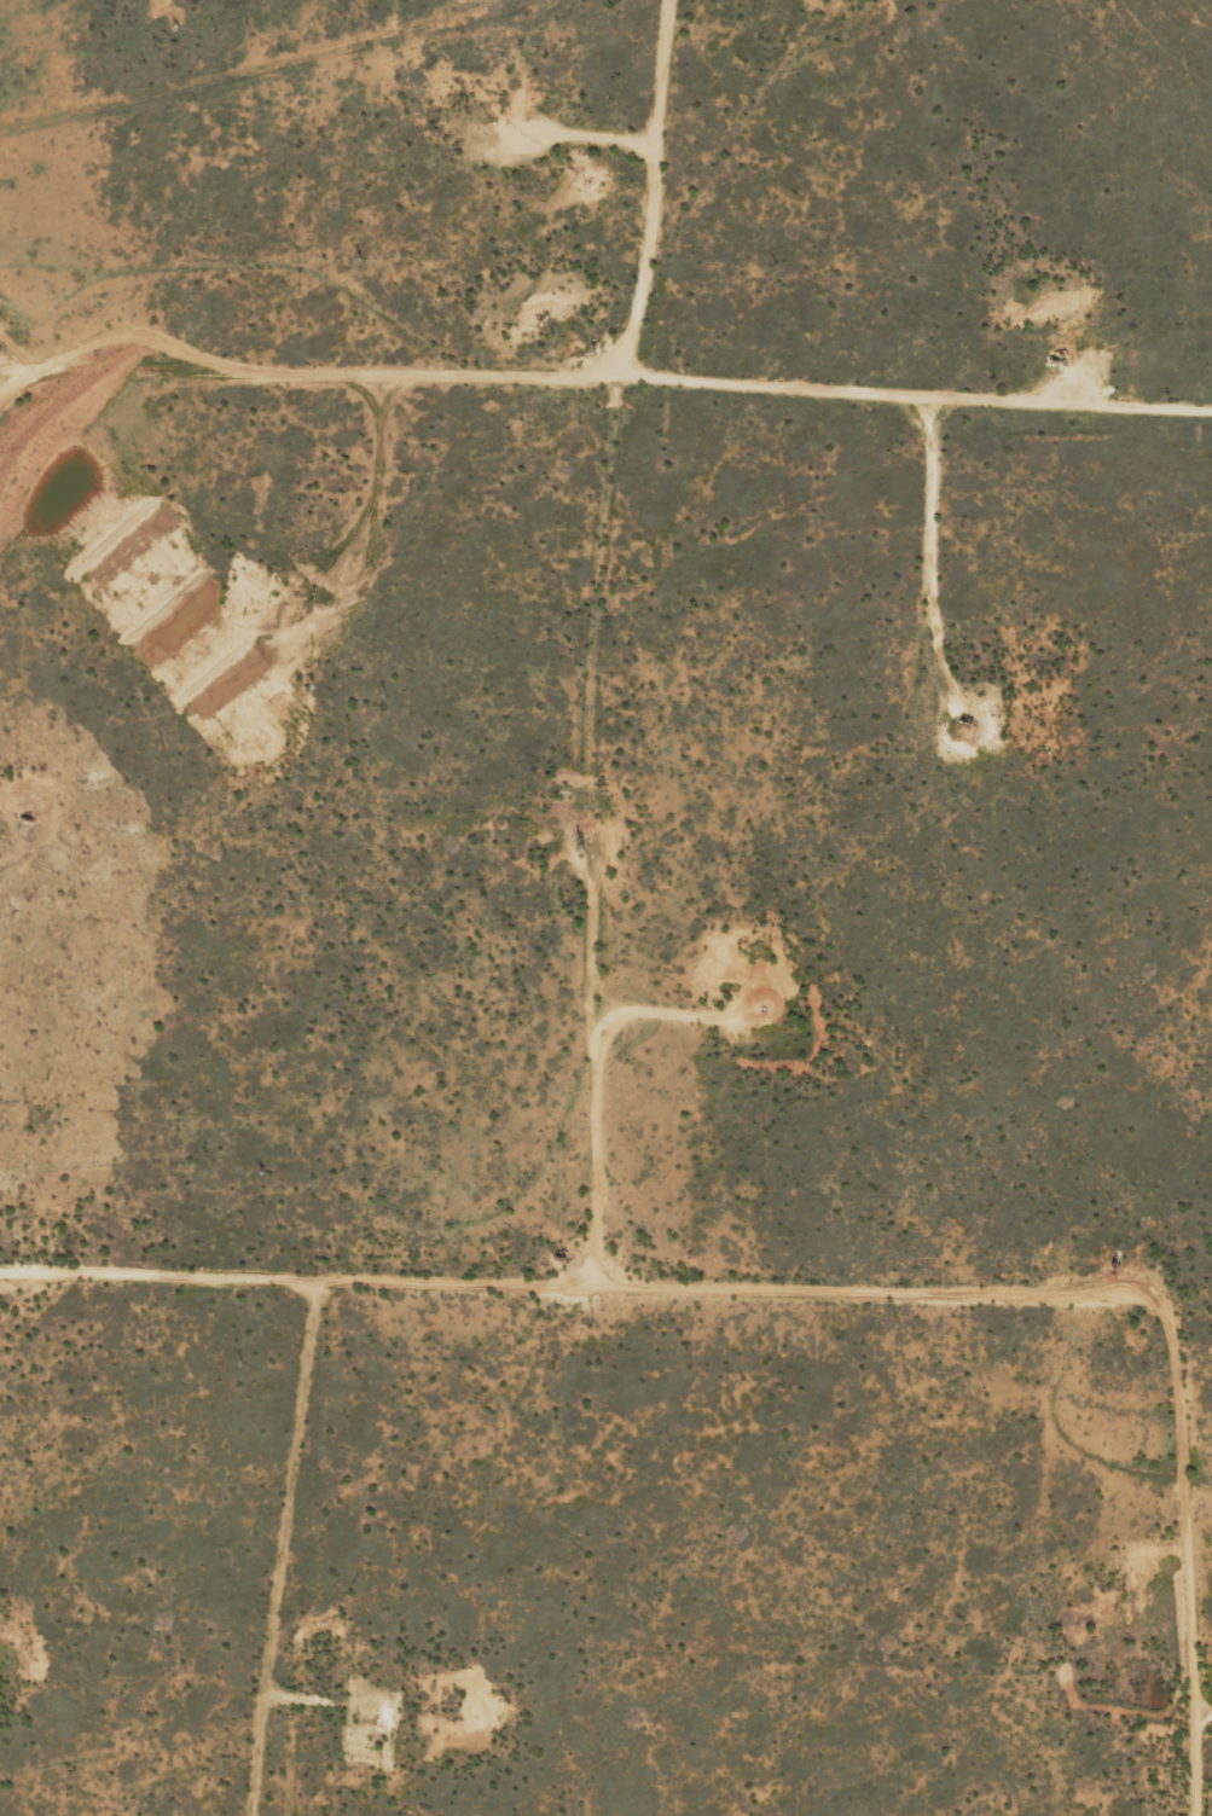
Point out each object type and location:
road: (1183, 30)
road: (605, 120)
road: (610, 399)
road: (553, 810)
road: (655, 1335)
road: (1144, 1673)

